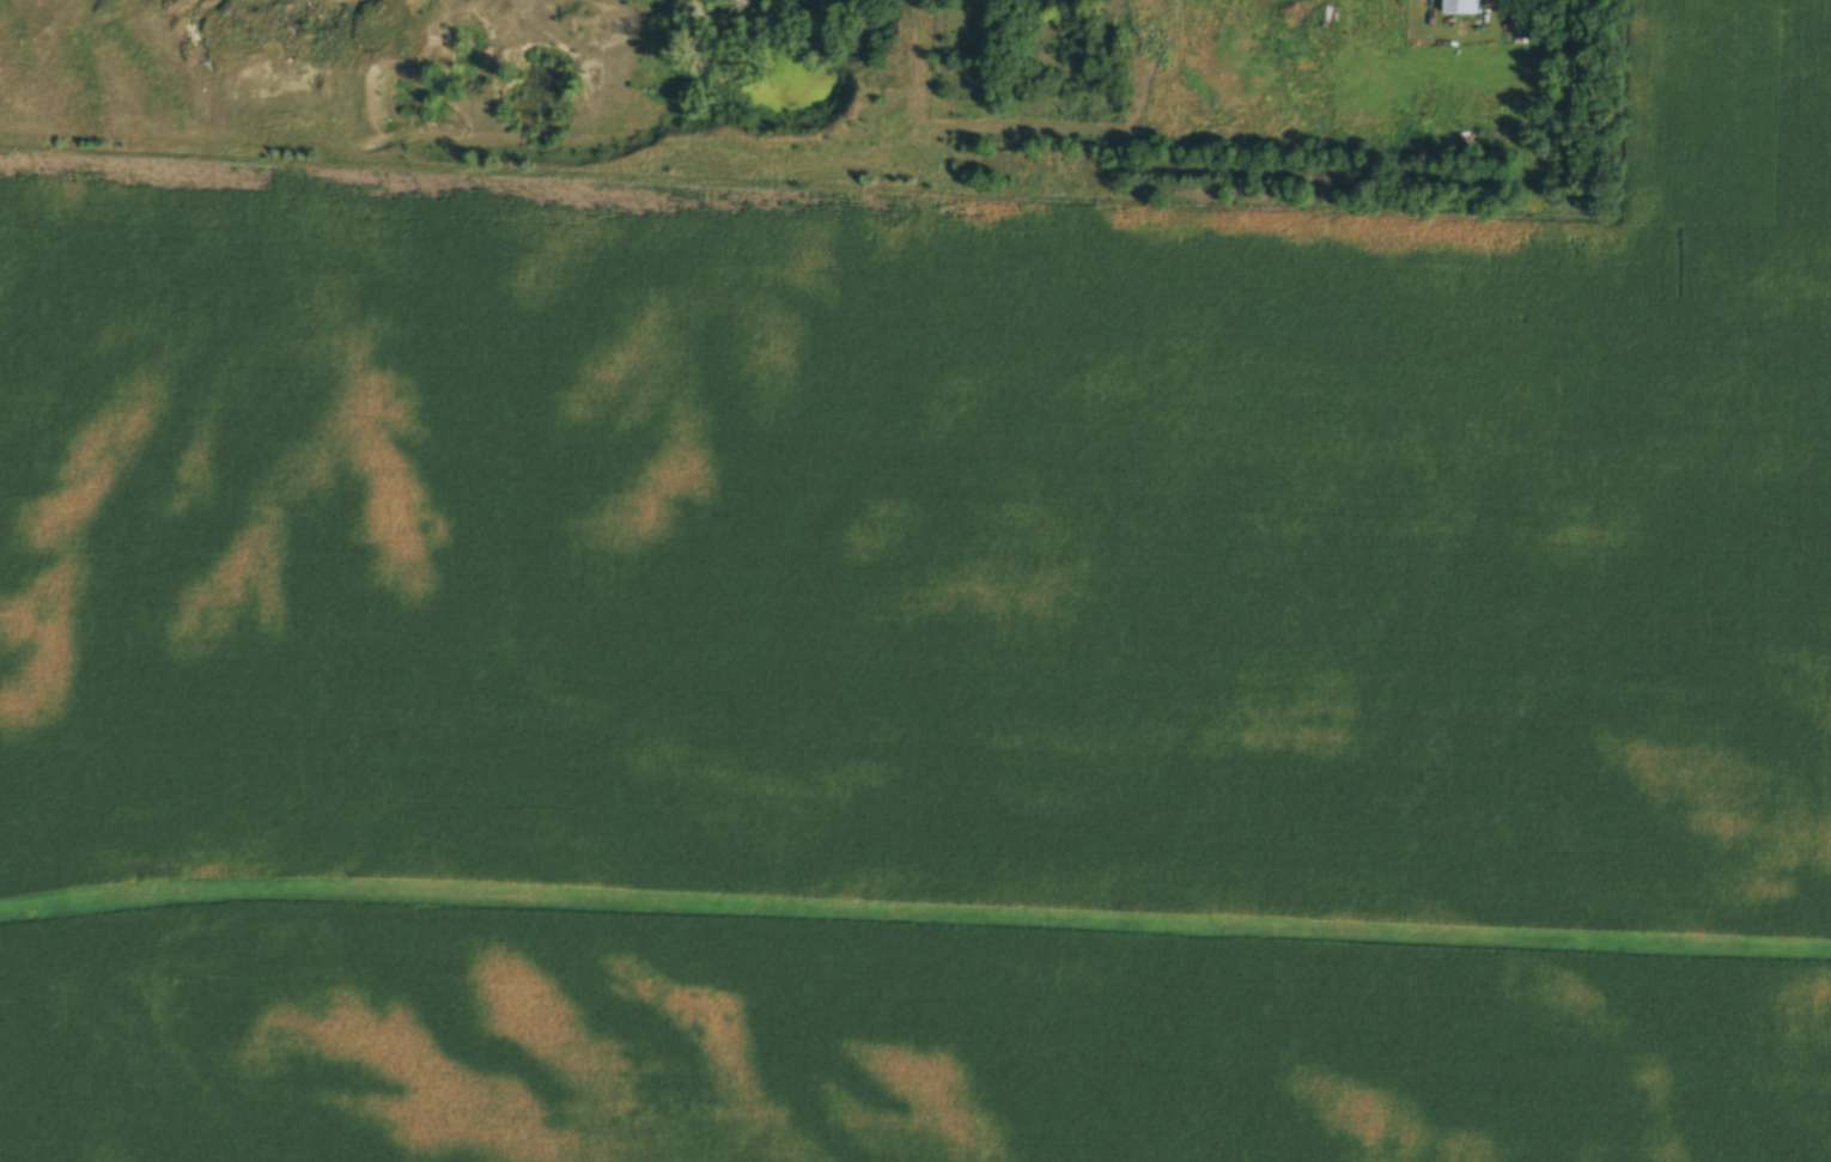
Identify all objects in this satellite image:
building: (1460, 7)

